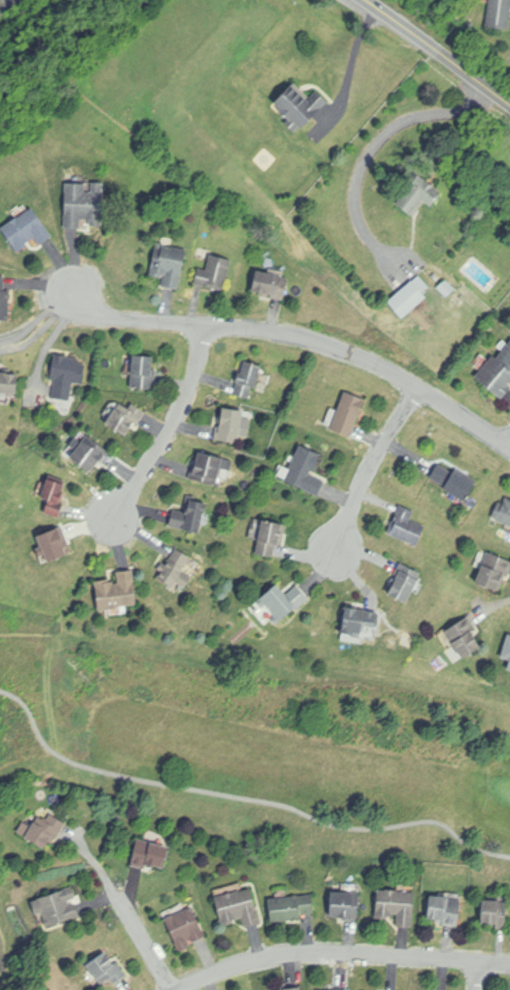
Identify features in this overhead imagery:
building: (500, 14)
road: (440, 50)
road: (355, 59)
building: (299, 106)
road: (378, 138)
building: (419, 195)
building: (83, 205)
building: (27, 230)
building: (170, 263)
building: (215, 274)
building: (270, 285)
building: (446, 289)
building: (408, 299)
building: (4, 301)
road: (40, 320)
road: (301, 337)
building: (143, 373)
building: (497, 374)
building: (66, 375)
building: (248, 380)
building: (9, 383)
building: (348, 415)
building: (126, 418)
road: (171, 426)
building: (230, 426)
road: (509, 447)
building: (89, 455)
building: (210, 467)
road: (370, 467)
building: (305, 471)
building: (454, 483)
building: (53, 496)
building: (503, 512)
building: (190, 518)
building: (406, 527)
building: (269, 538)
building: (175, 571)
building: (493, 572)
building: (403, 588)
building: (117, 592)
building: (284, 602)
building: (360, 621)
building: (463, 639)
building: (506, 649)
building: (509, 668)
park: (259, 752)
building: (42, 829)
building: (152, 850)
road: (97, 864)
building: (345, 904)
building: (397, 904)
building: (57, 906)
building: (237, 907)
building: (290, 907)
building: (444, 910)
building: (495, 912)
building: (185, 927)
road: (147, 942)
park: (14, 952)
road: (344, 952)
building: (106, 969)
road: (478, 975)
building: (294, 988)

